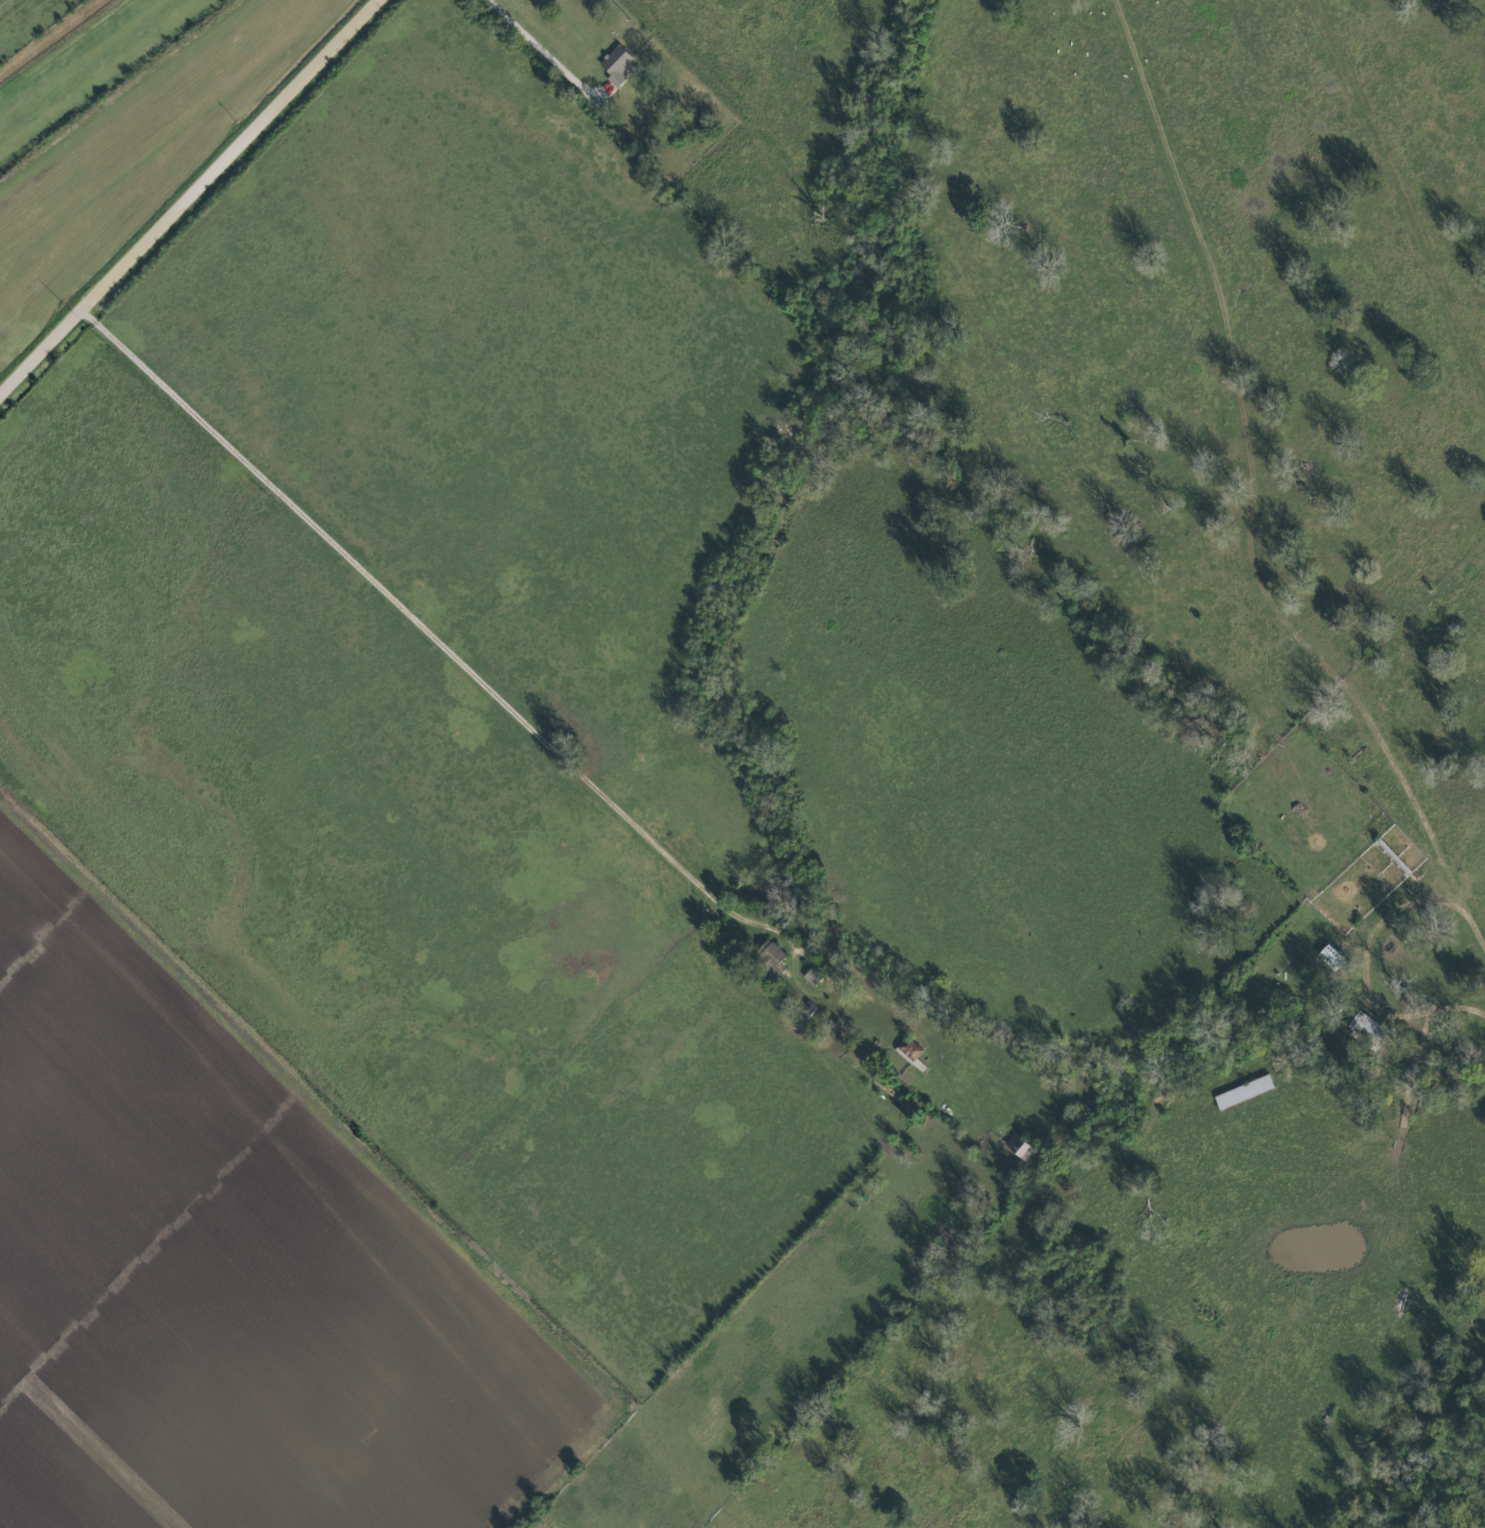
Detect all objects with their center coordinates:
road: (535, 50)
railway: (87, 64)
building: (615, 65)
road: (194, 202)
road: (1248, 502)
road: (511, 704)
building: (769, 958)
building: (811, 977)
building: (806, 1009)
building: (1366, 1025)
building: (908, 1048)

